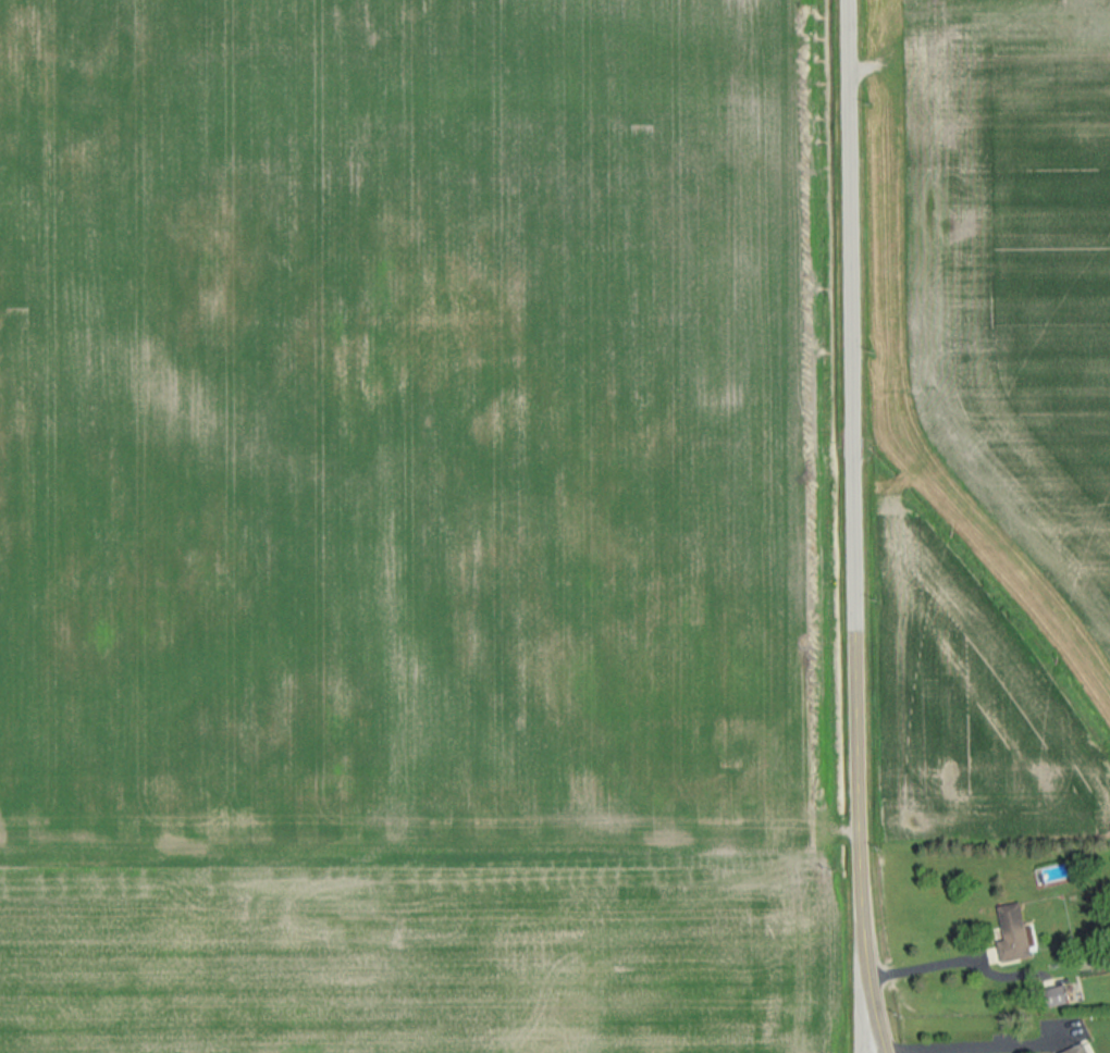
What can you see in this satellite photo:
road: (853, 528)
building: (1012, 933)
road: (926, 961)
building: (1058, 994)
road: (863, 999)
road: (976, 1043)
building: (1077, 1049)

